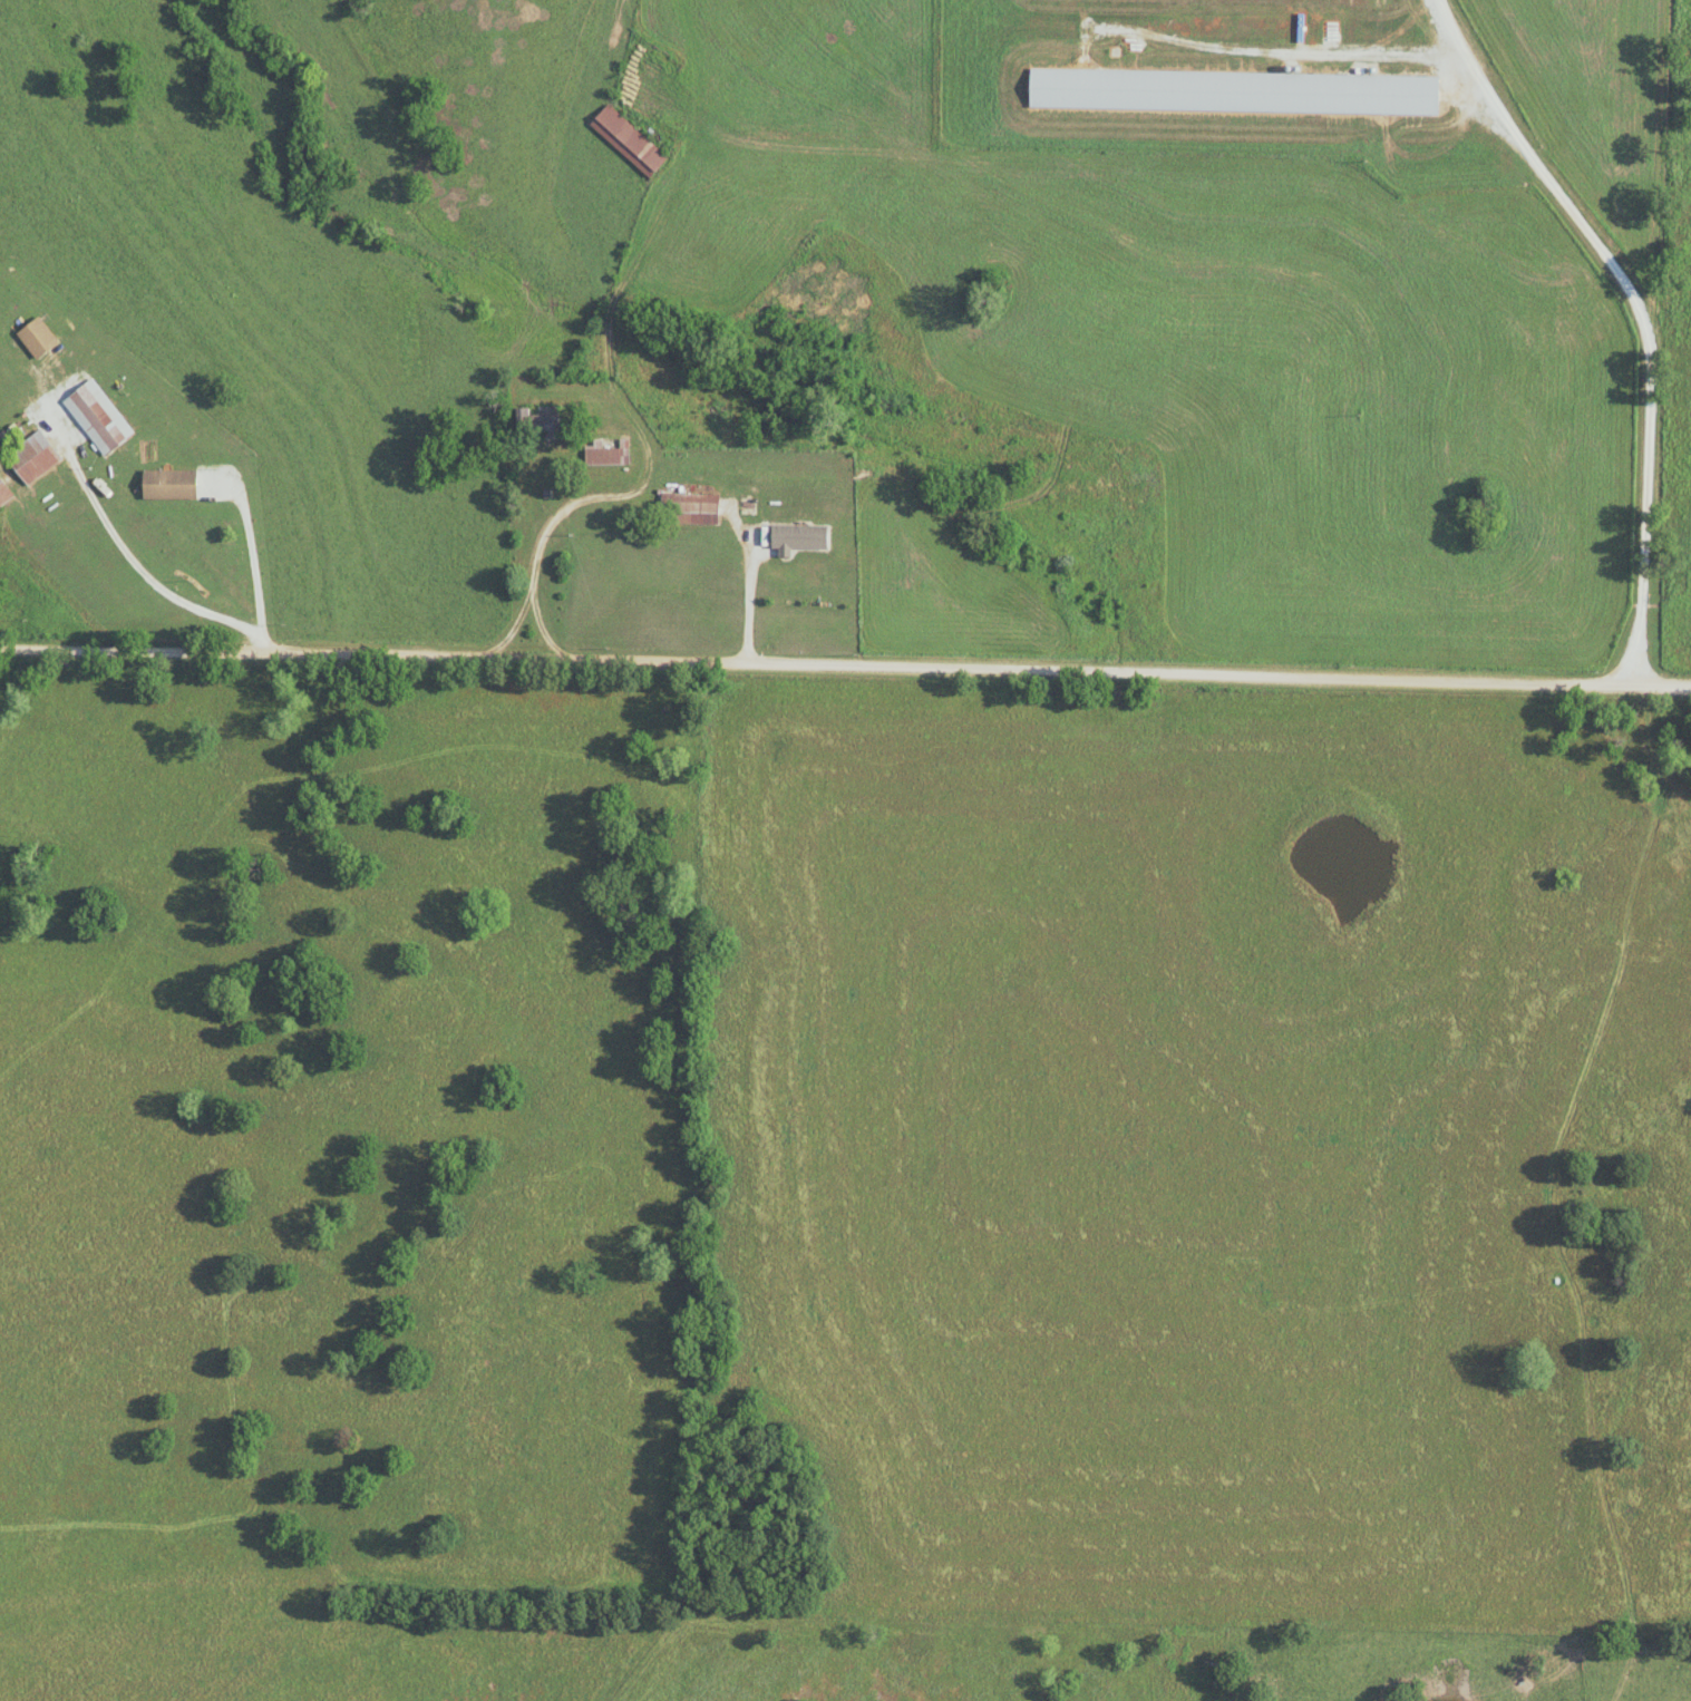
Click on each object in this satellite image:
building: (1233, 90)
road: (767, 127)
building: (628, 139)
road: (1639, 317)
building: (37, 337)
road: (604, 368)
building: (95, 412)
building: (536, 425)
building: (608, 451)
building: (32, 457)
building: (168, 483)
building: (3, 493)
building: (746, 505)
building: (696, 507)
road: (256, 558)
road: (139, 570)
building: (813, 571)
road: (751, 605)
road: (537, 626)
road: (845, 669)
road: (1631, 1606)

